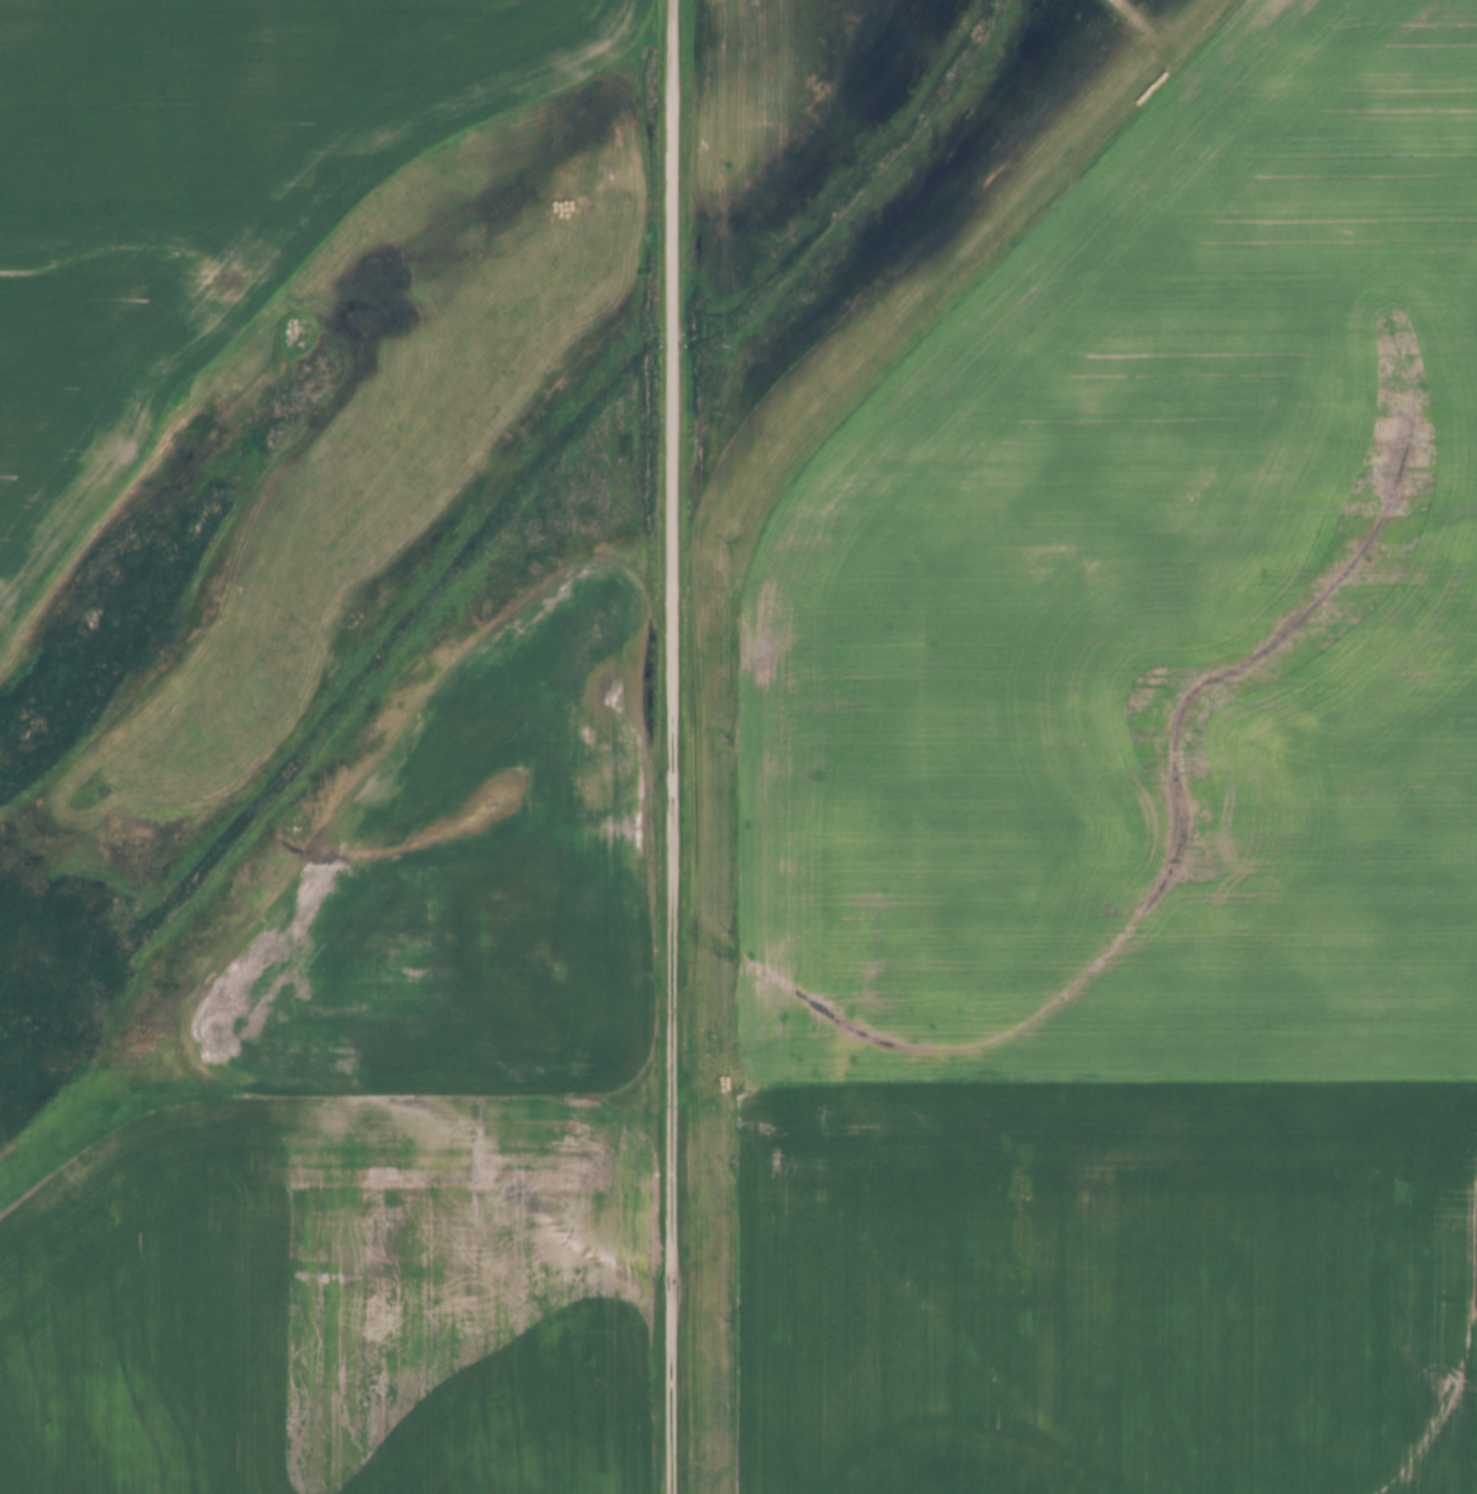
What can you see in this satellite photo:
road: (675, 746)

